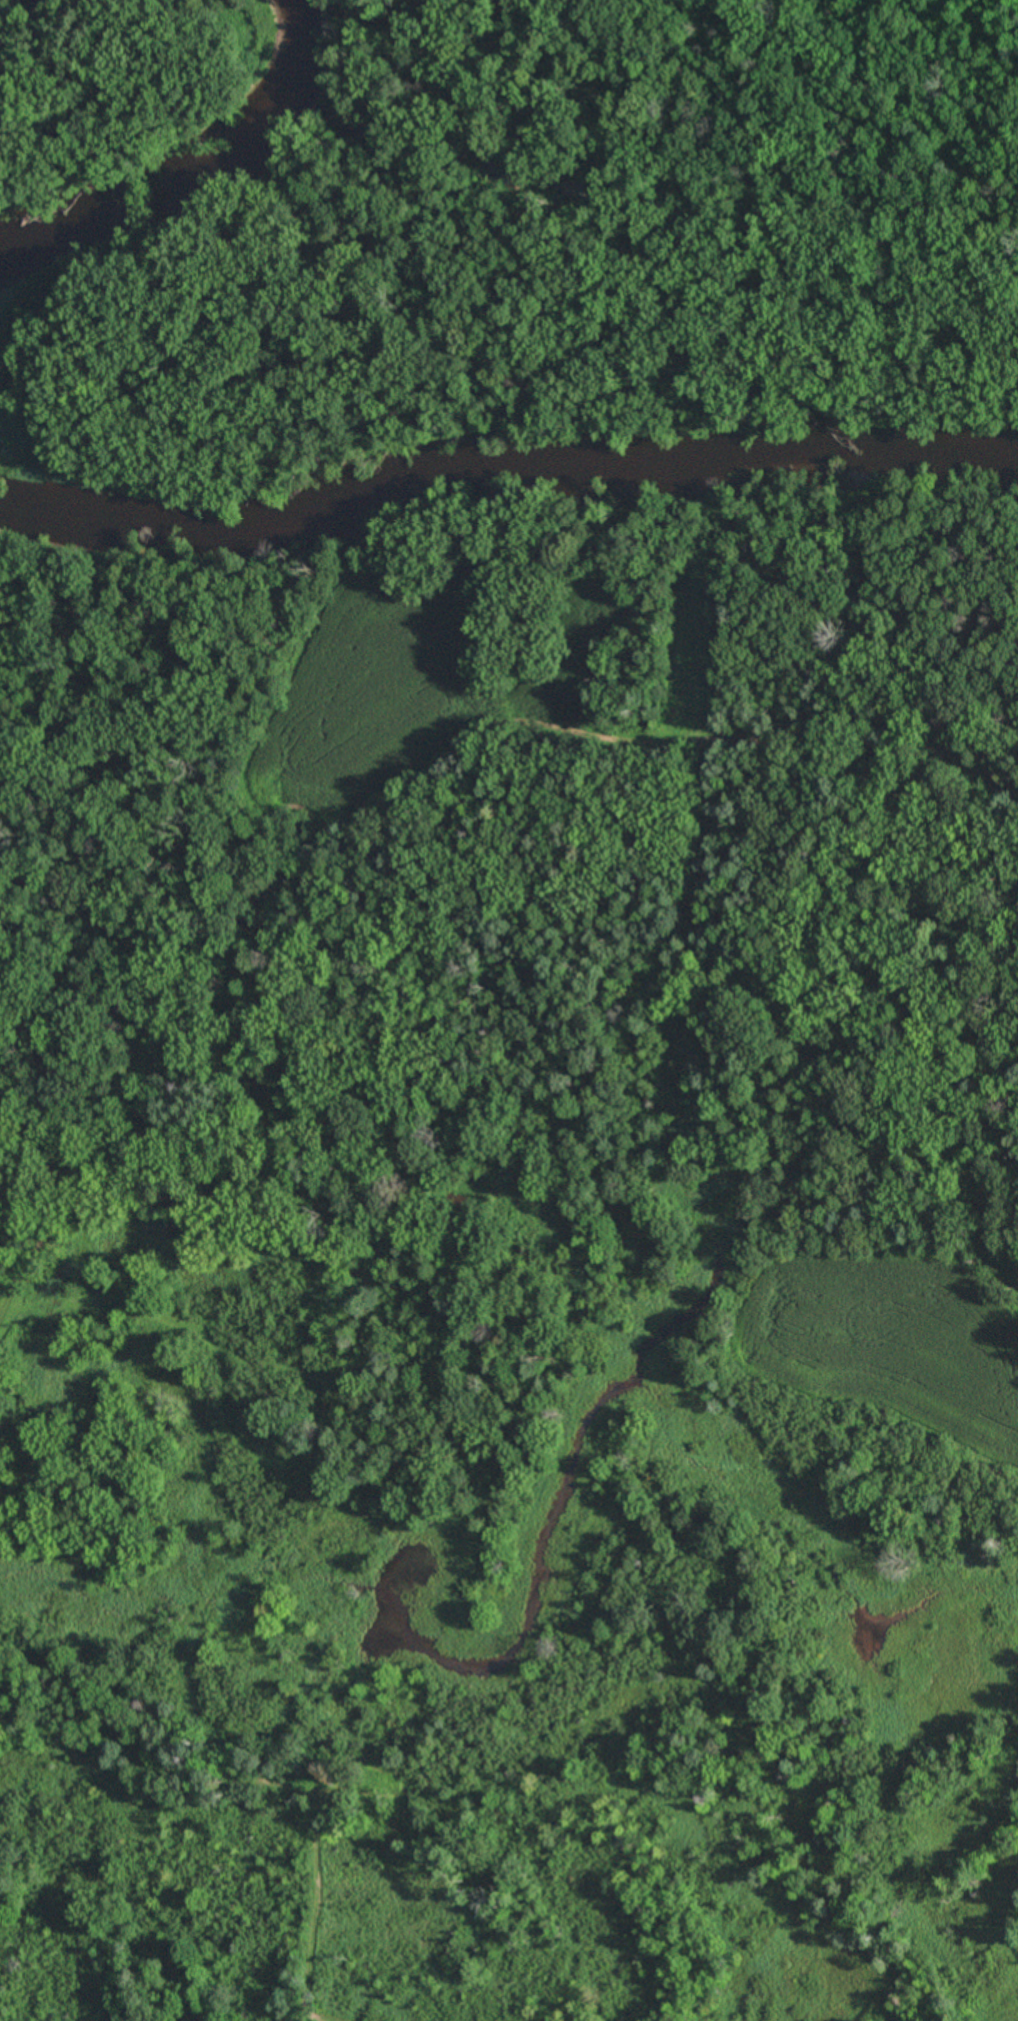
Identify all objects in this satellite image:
river: (239, 493)

